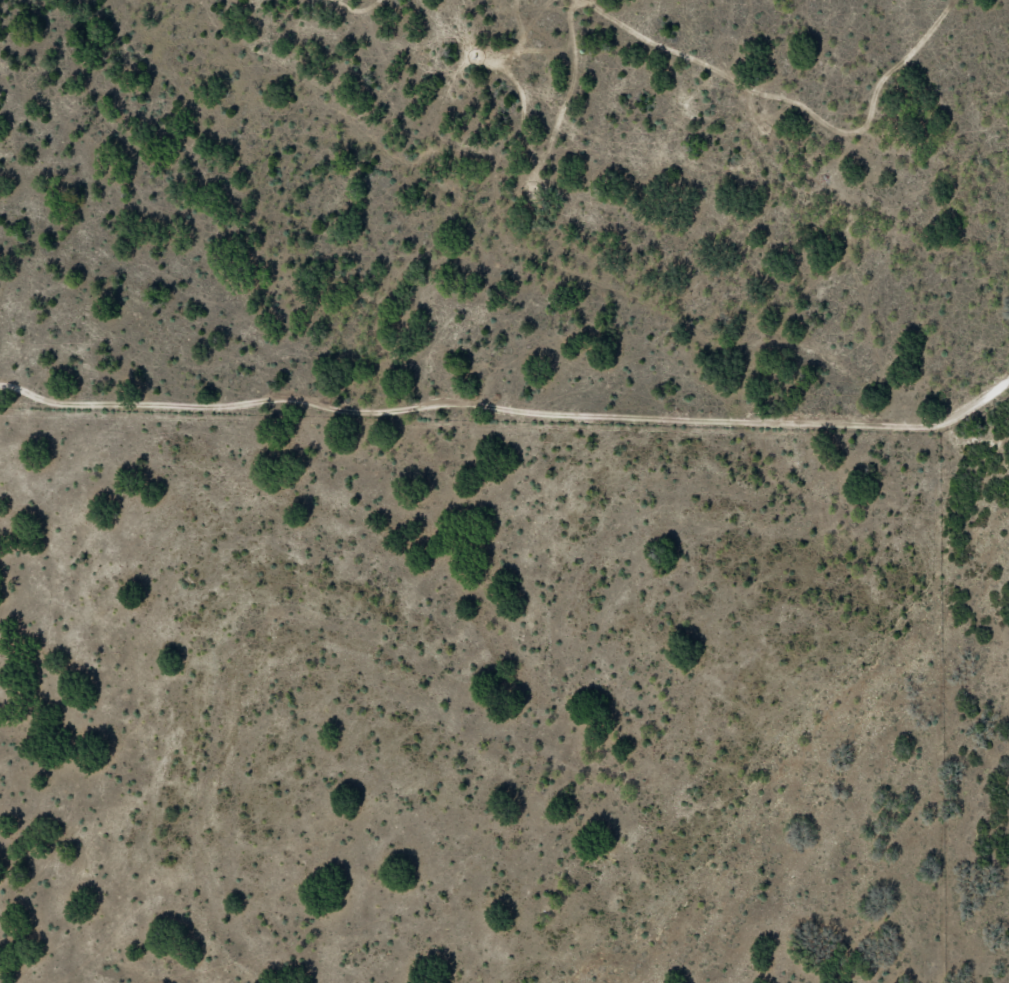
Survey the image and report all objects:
road: (836, 114)

